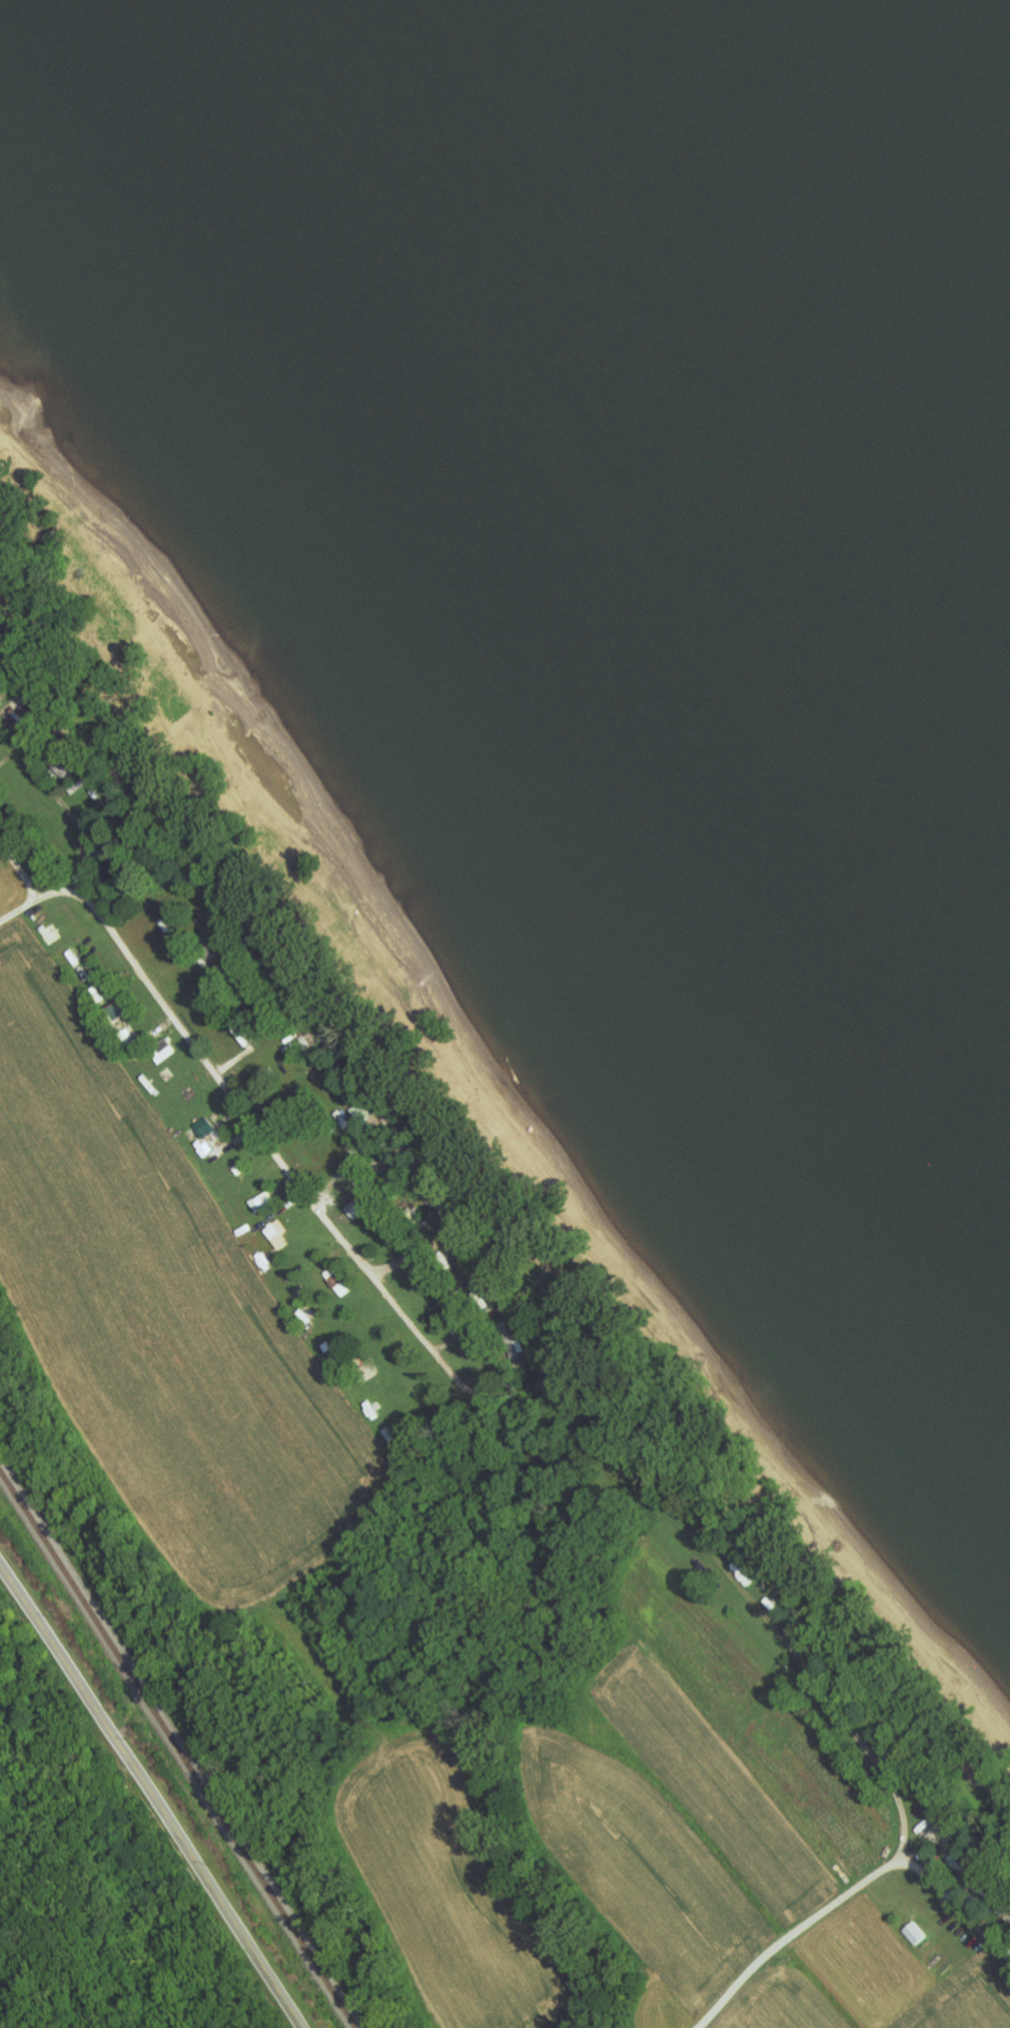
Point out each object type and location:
river: (580, 486)
road: (19, 866)
road: (233, 1086)
railway: (178, 1750)
road: (152, 1794)
road: (853, 1893)

